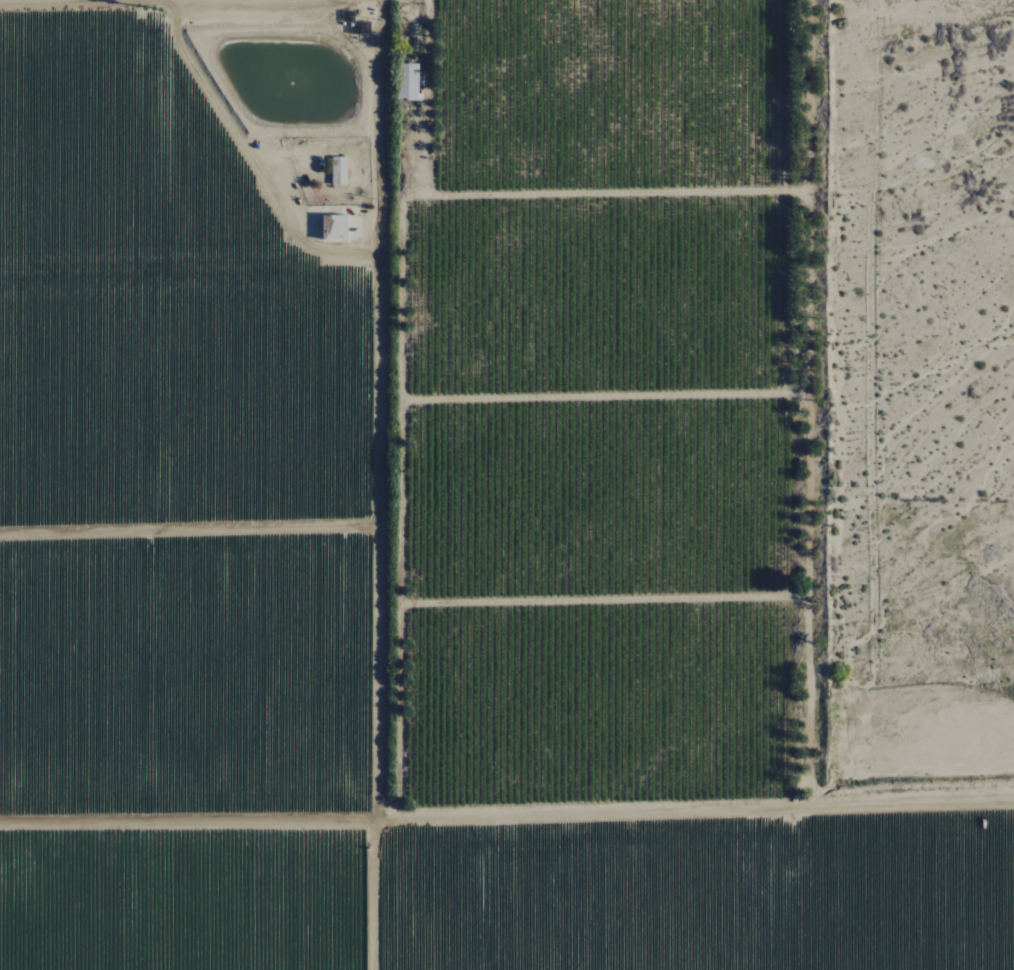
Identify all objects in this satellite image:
building: (406, 81)
building: (338, 170)
building: (334, 227)

